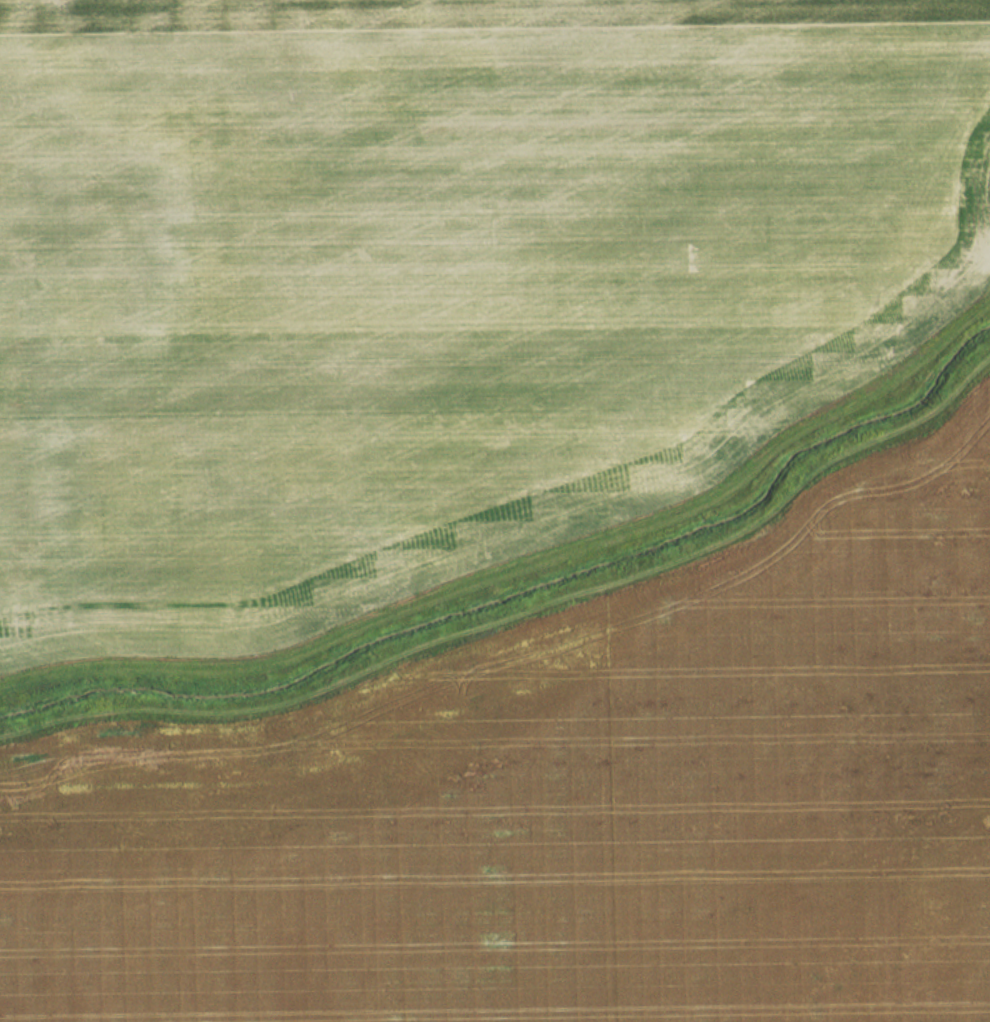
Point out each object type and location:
crop: (438, 282)
crop: (567, 802)

